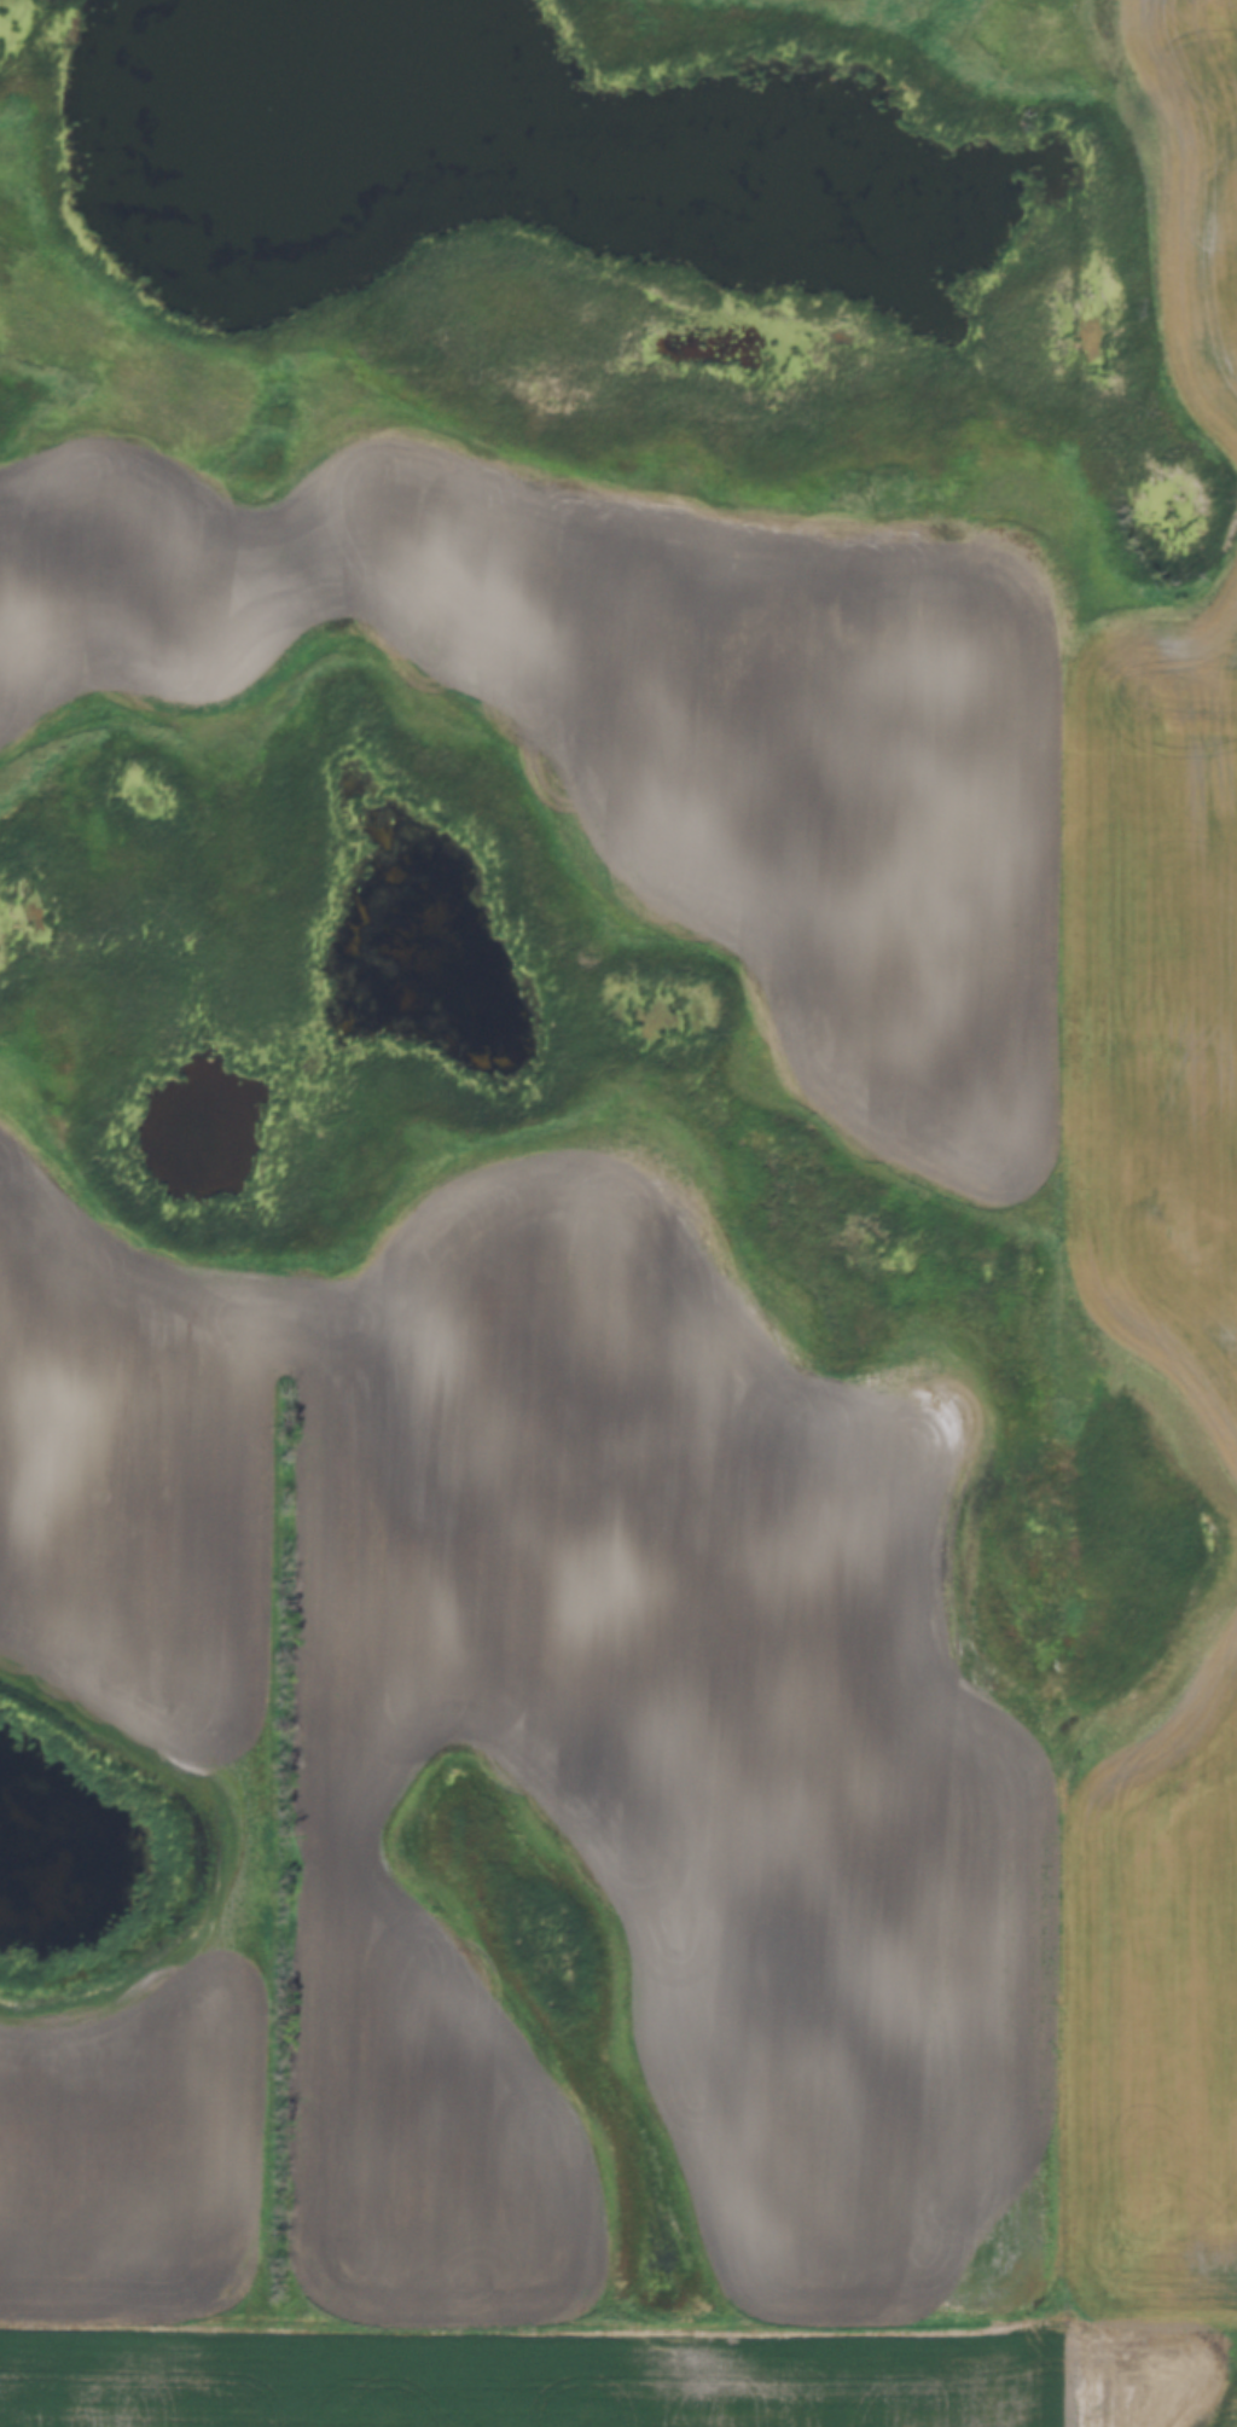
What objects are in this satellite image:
road: (618, 2336)

